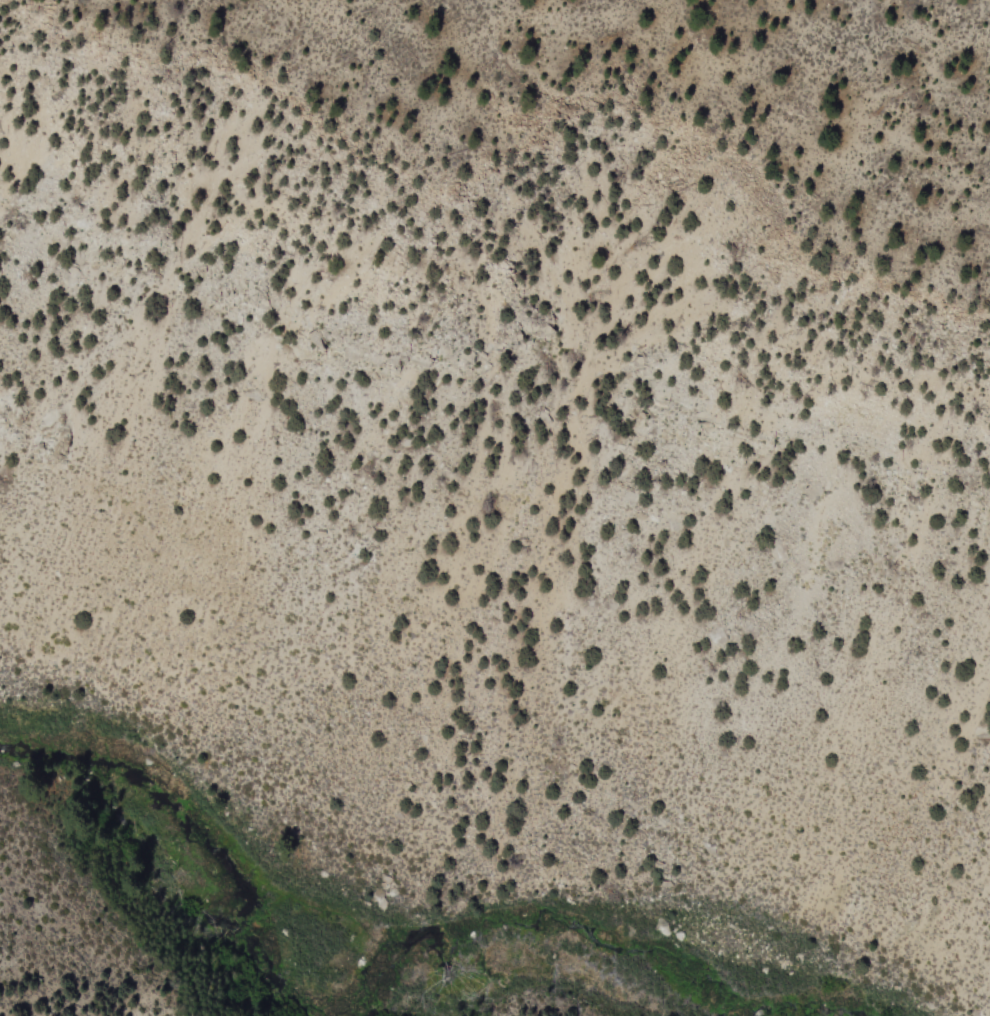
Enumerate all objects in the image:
road: (653, 5)

